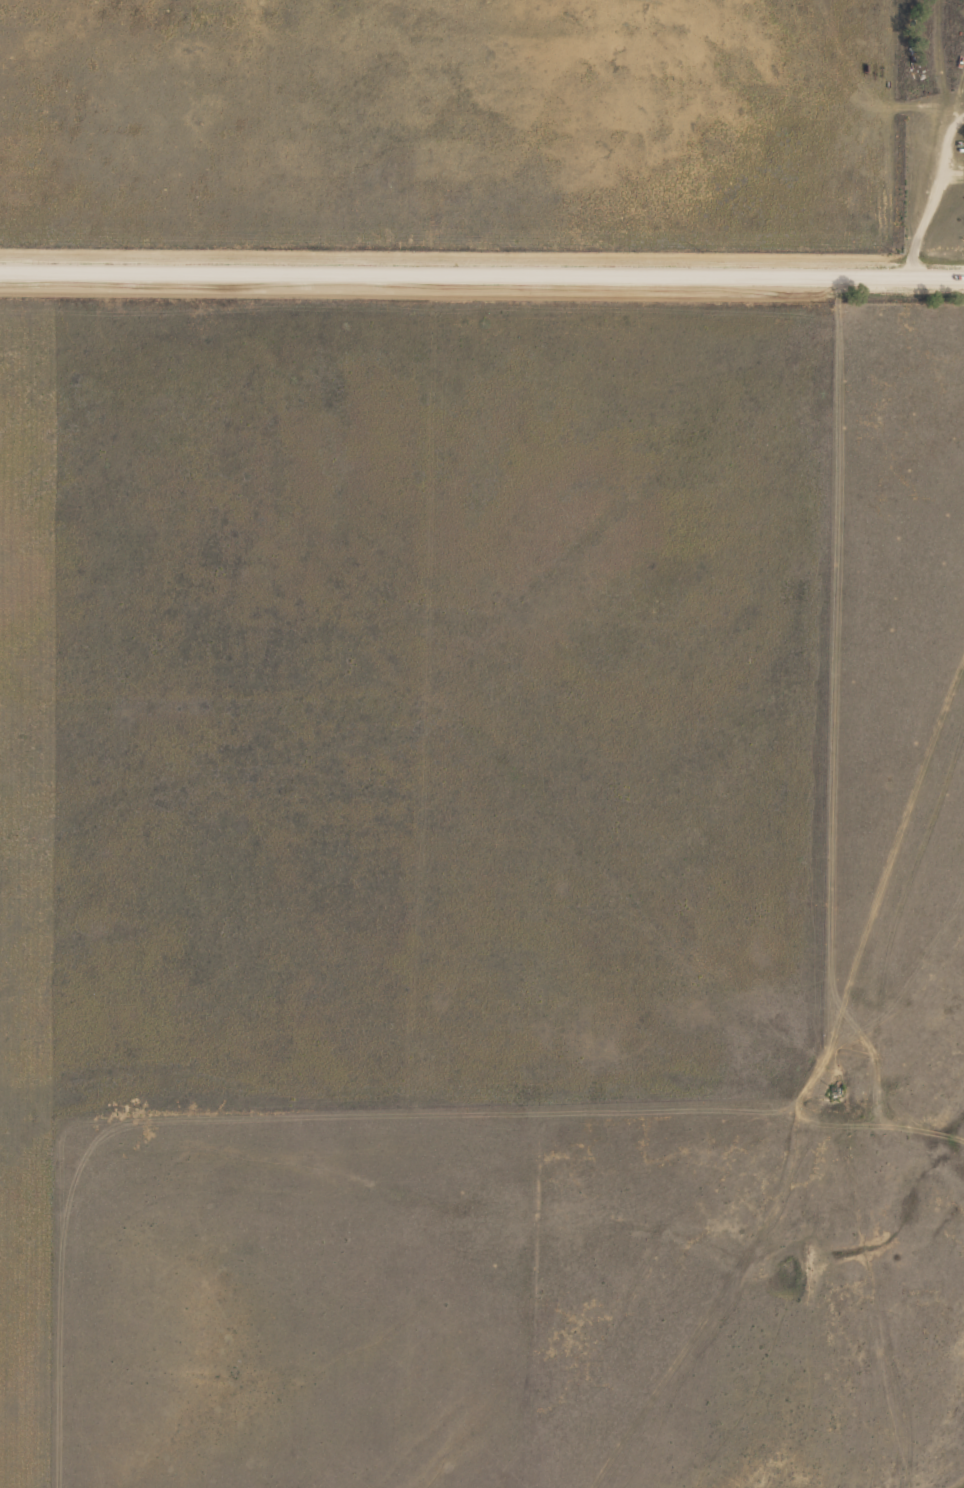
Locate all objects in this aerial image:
road: (482, 271)
road: (923, 993)

